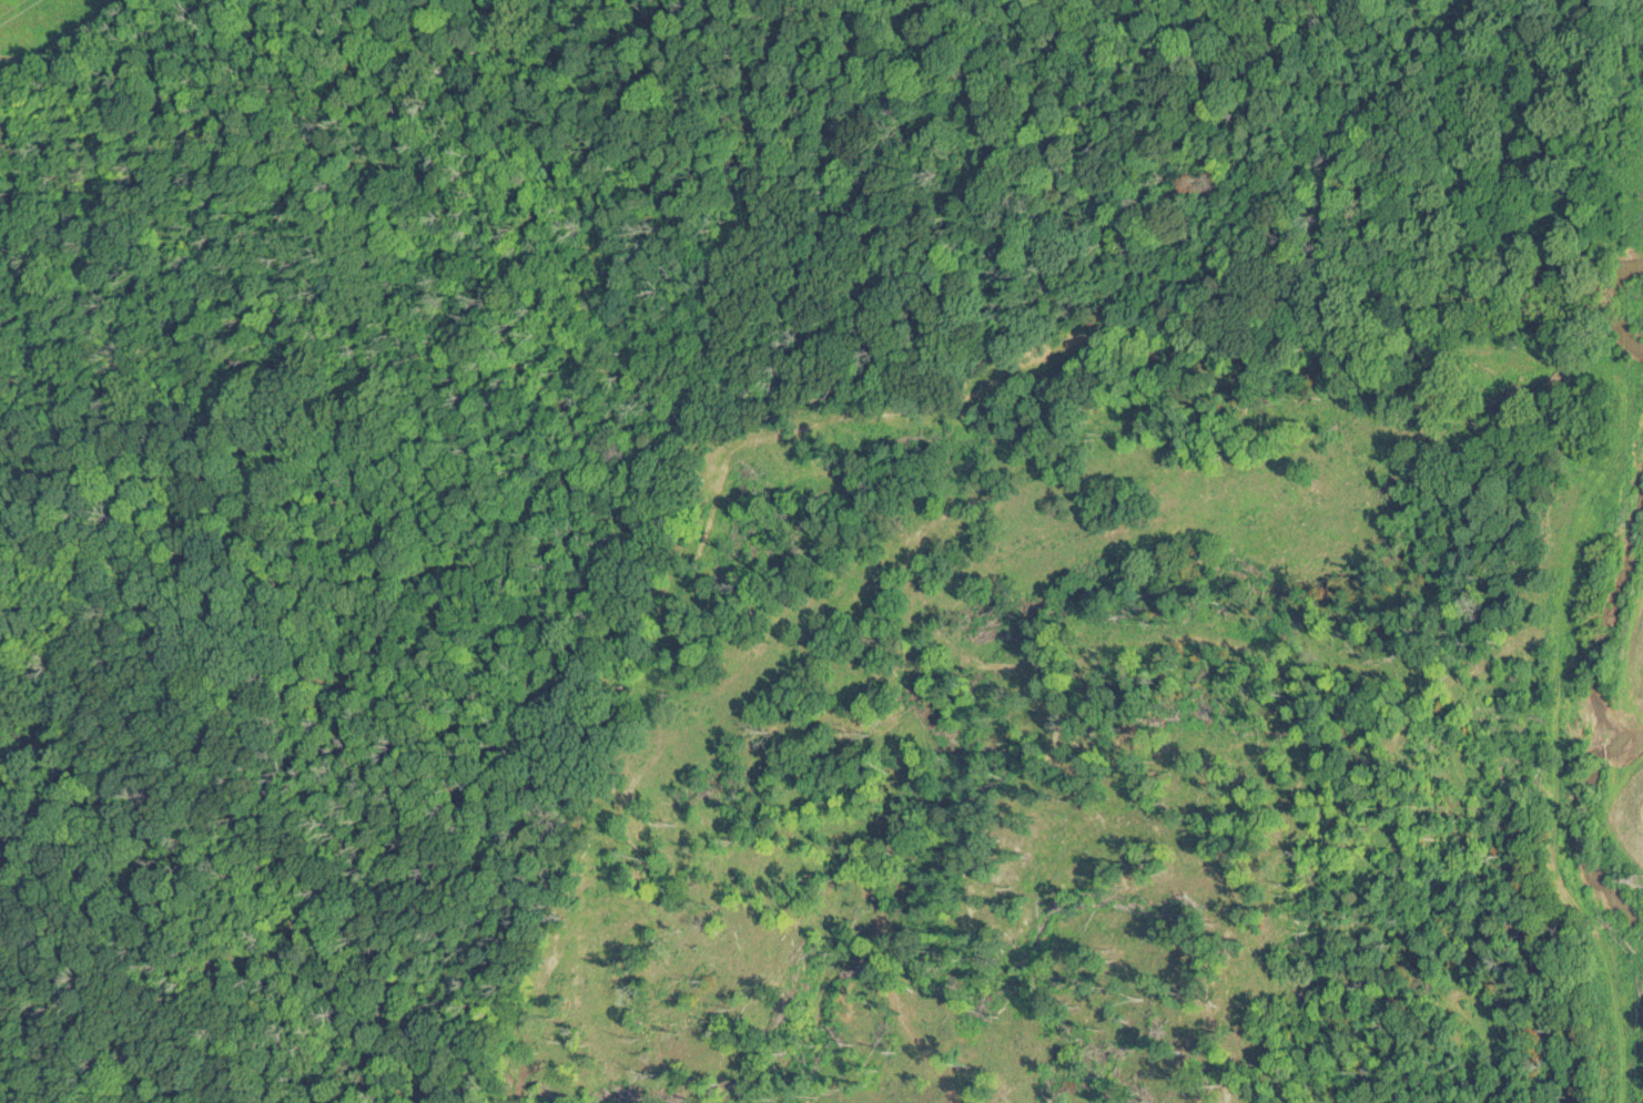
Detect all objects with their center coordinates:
power tower: (1640, 881)

